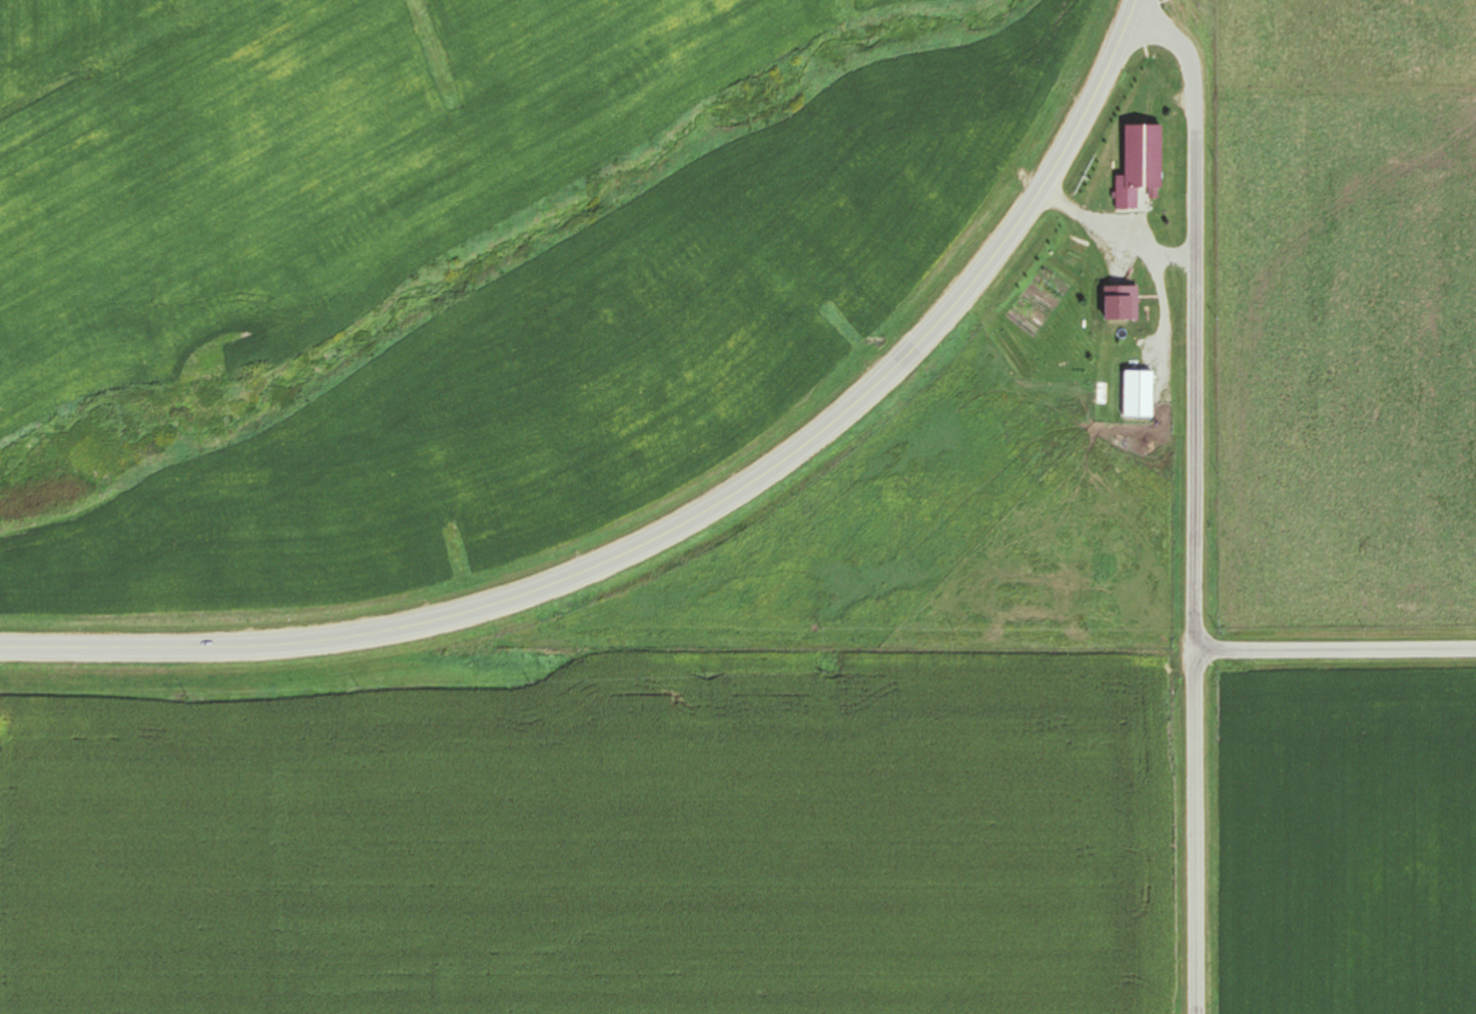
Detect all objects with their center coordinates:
building: (1138, 164)
building: (1076, 248)
building: (1136, 310)
road: (1195, 506)
road: (686, 524)
road: (838, 650)
road: (1335, 650)

